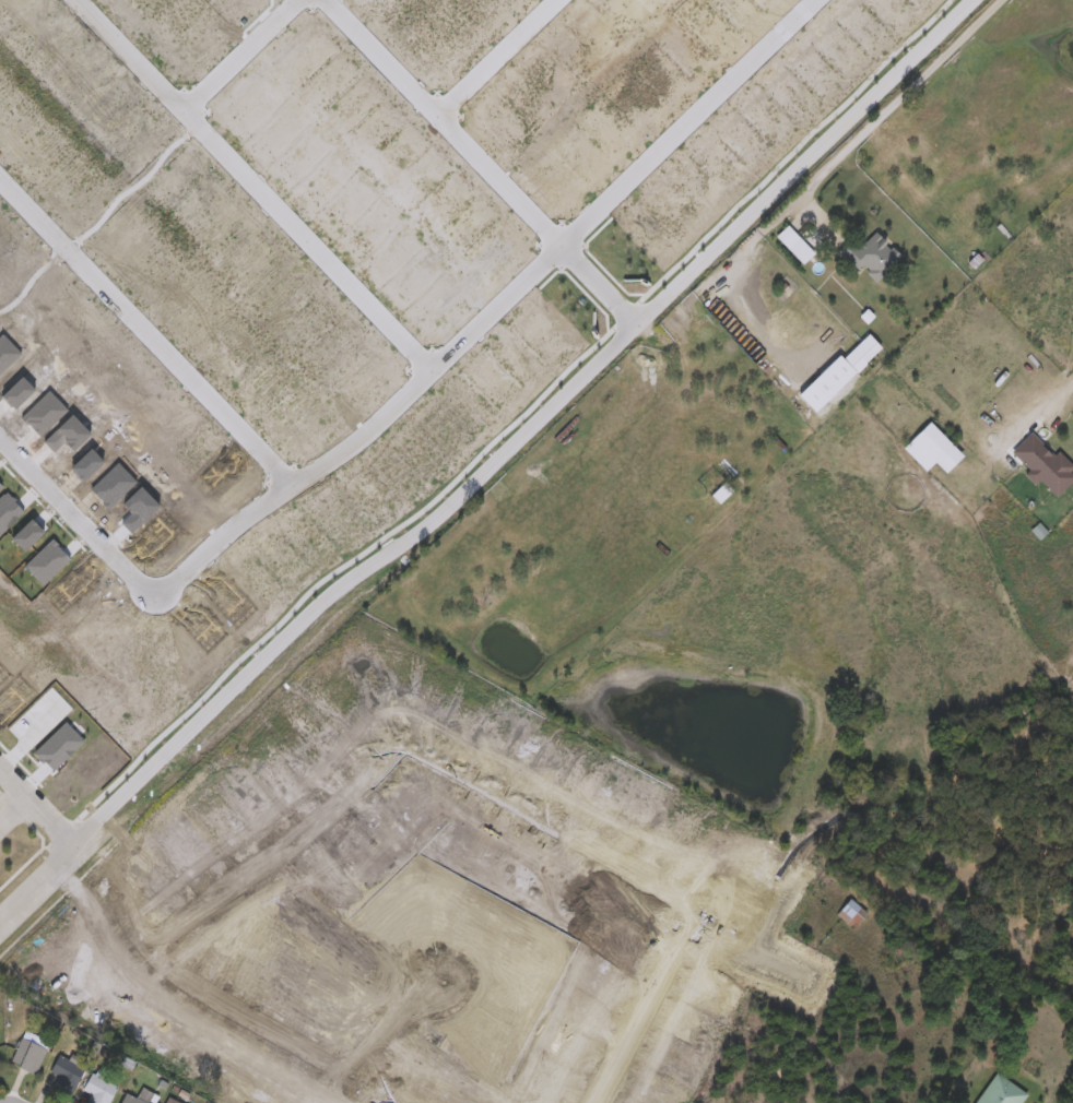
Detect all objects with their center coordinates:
road: (246, 54)
road: (502, 57)
road: (885, 109)
road: (487, 162)
road: (262, 183)
road: (785, 206)
building: (789, 239)
building: (873, 258)
road: (735, 259)
road: (502, 304)
road: (150, 329)
building: (863, 355)
road: (1042, 400)
road: (531, 428)
building: (933, 451)
building: (1046, 467)
building: (723, 495)
road: (82, 520)
road: (12, 807)
road: (38, 808)
road: (38, 882)
building: (853, 916)
building: (26, 1054)
building: (63, 1071)
building: (97, 1088)
building: (1002, 1092)
building: (131, 1100)
building: (170, 1100)

